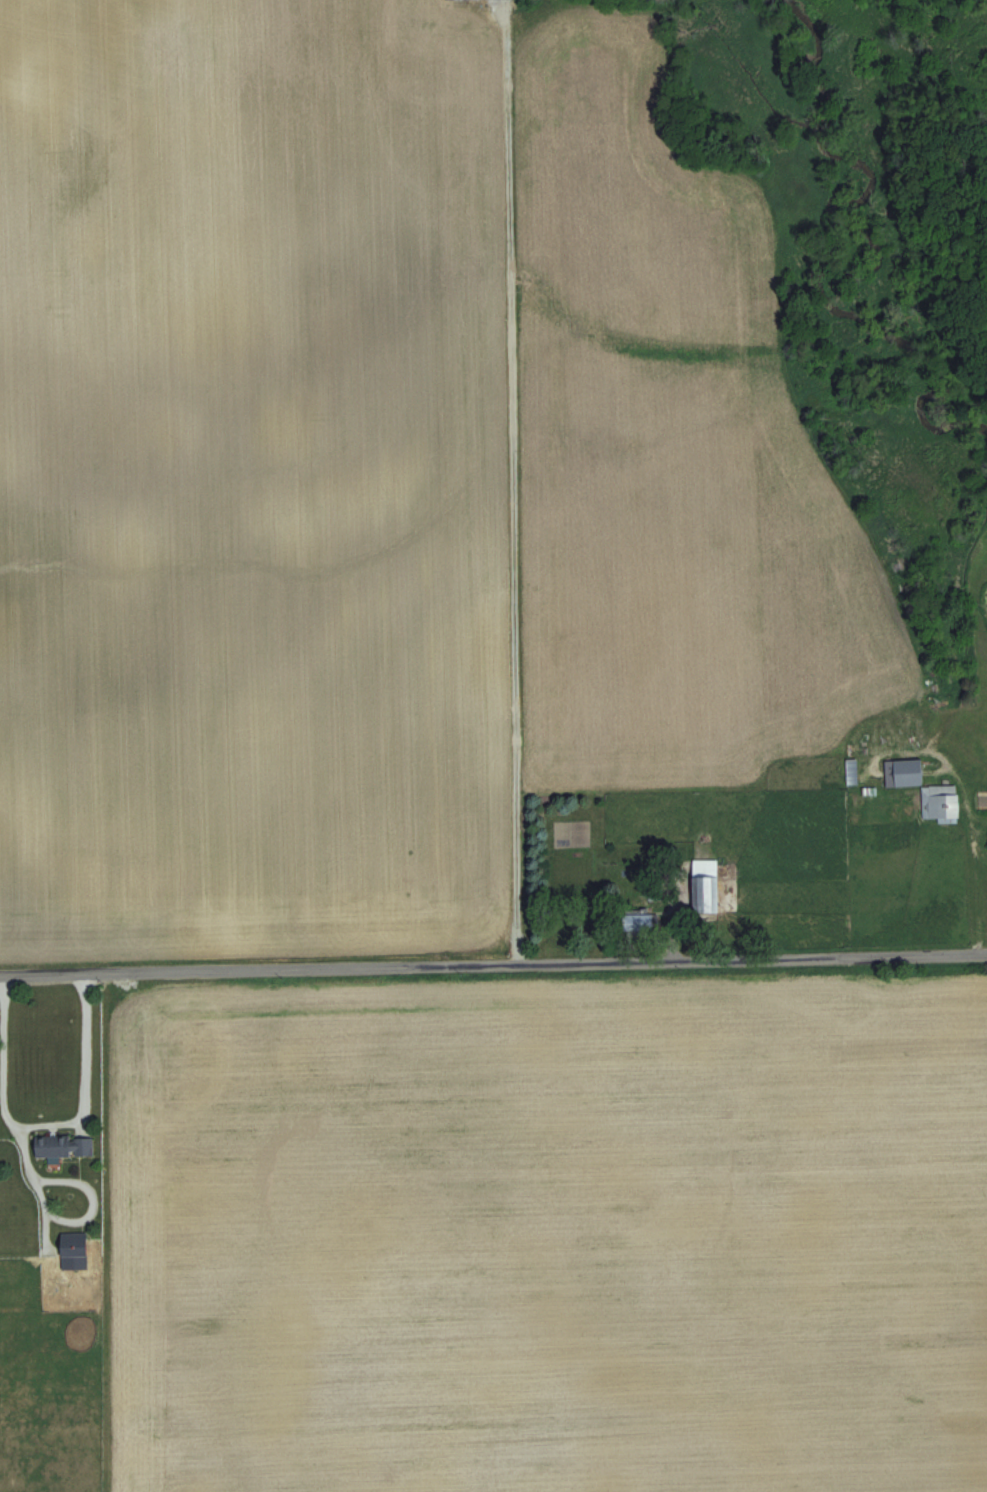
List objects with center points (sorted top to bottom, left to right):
building: (908, 771)
building: (940, 802)
building: (705, 885)
building: (641, 921)
road: (493, 965)
road: (44, 1128)
building: (64, 1146)
road: (20, 1156)
road: (54, 1218)
building: (74, 1250)

